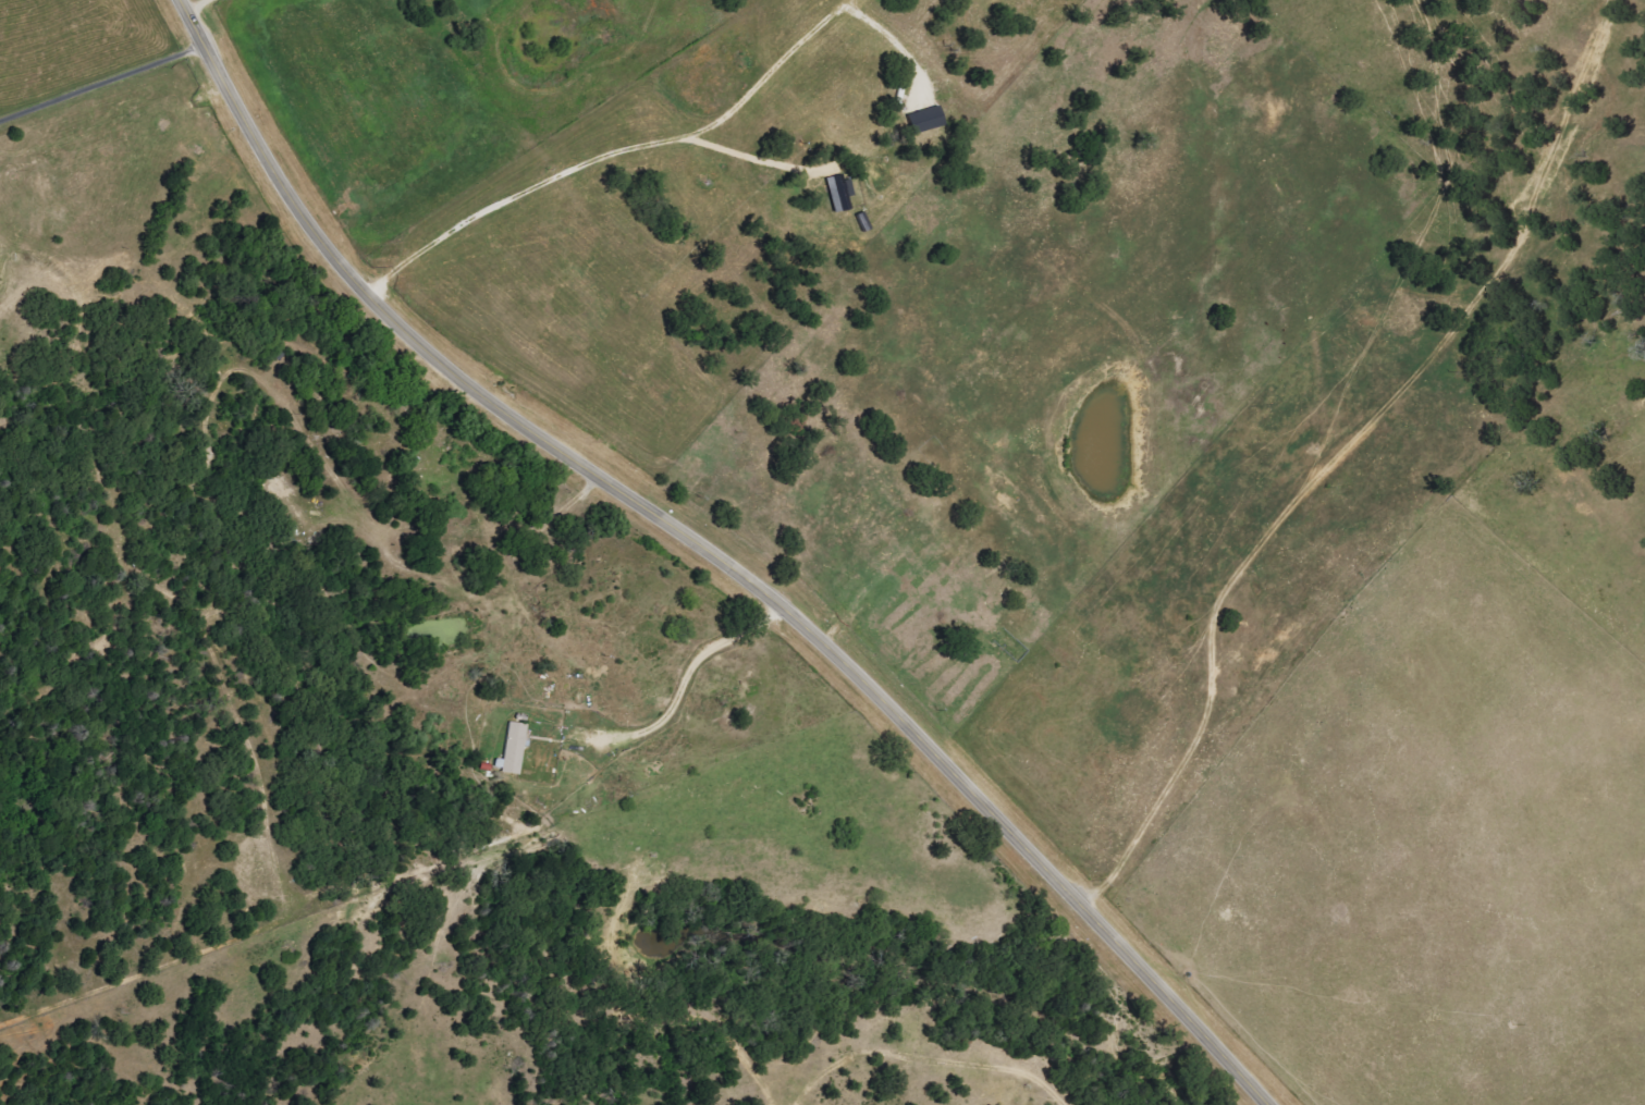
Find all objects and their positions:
road: (196, 7)
road: (101, 83)
building: (923, 119)
road: (607, 155)
road: (712, 554)
road: (1151, 570)
road: (682, 687)
building: (512, 749)

